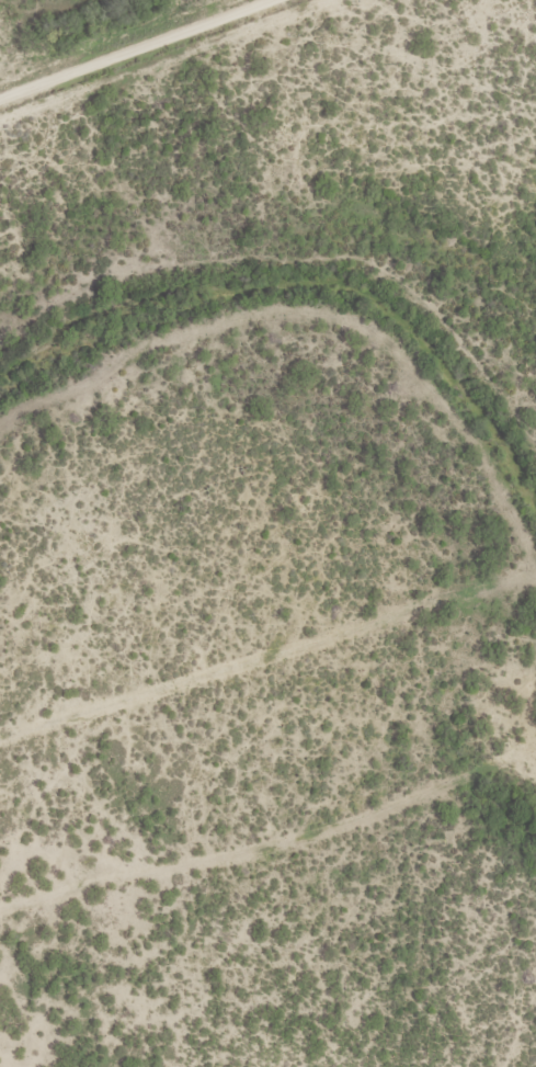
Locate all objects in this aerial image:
road: (137, 50)

